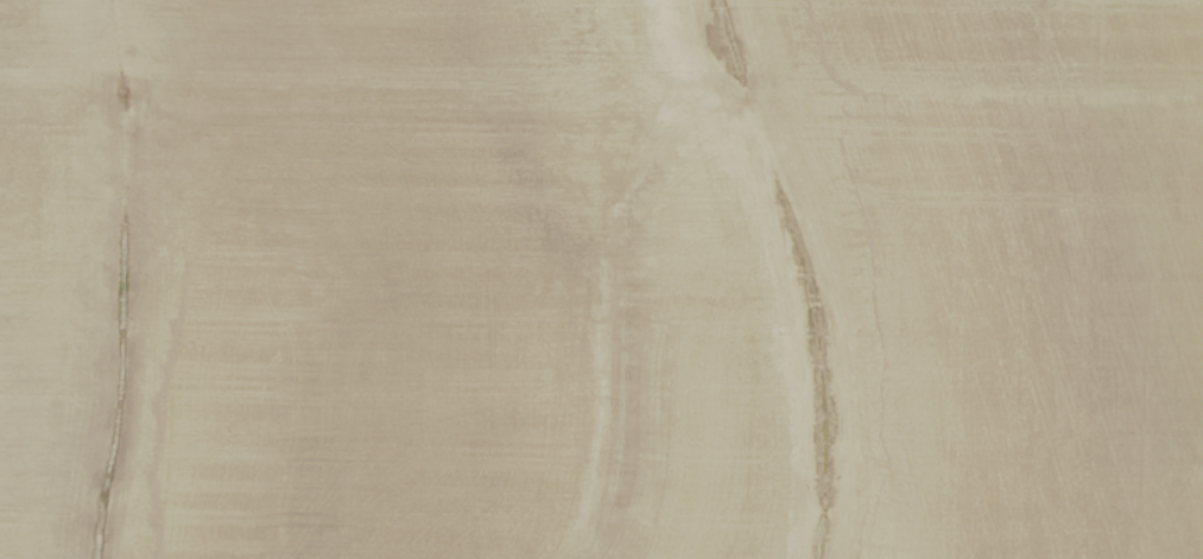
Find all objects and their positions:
road: (606, 42)
road: (601, 83)

